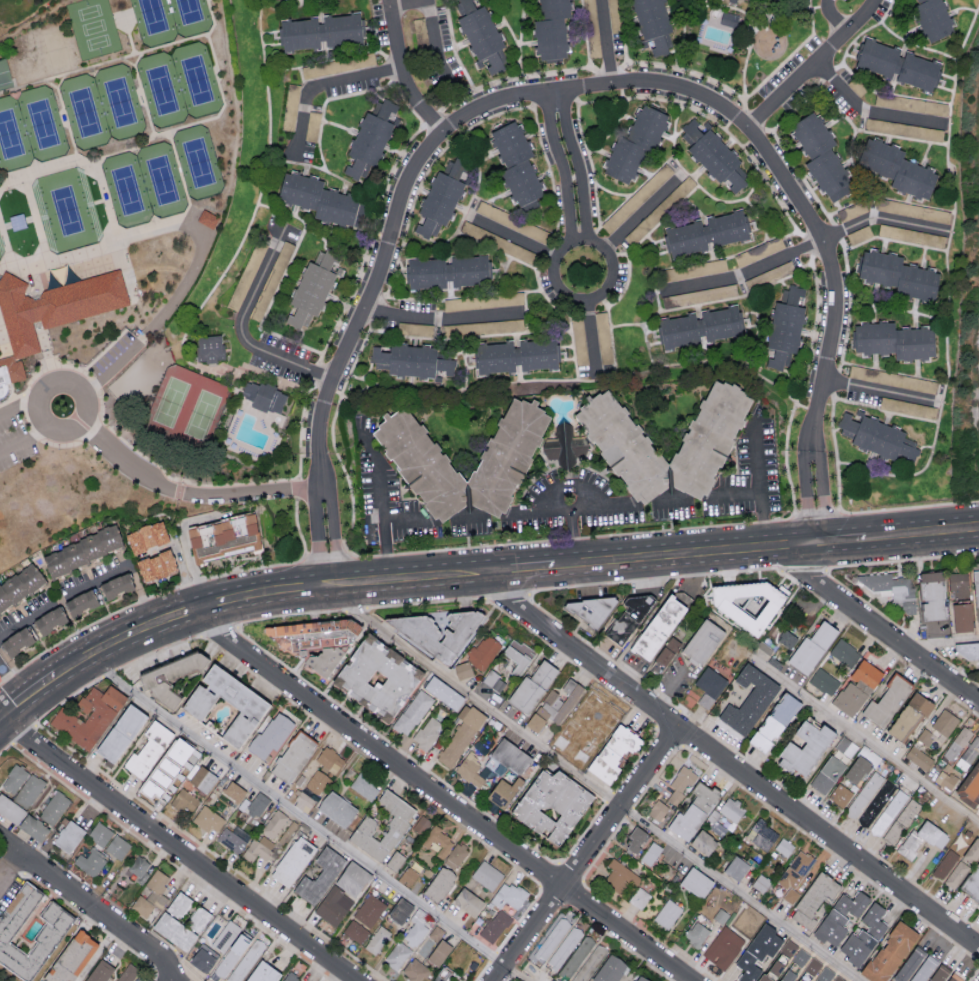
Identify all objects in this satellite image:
building: (729, 0)
road: (407, 2)
building: (786, 2)
building: (614, 15)
road: (835, 15)
park: (190, 17)
building: (932, 18)
building: (728, 19)
park: (154, 22)
building: (652, 24)
park: (93, 28)
building: (550, 29)
building: (419, 30)
building: (322, 31)
building: (481, 35)
road: (129, 37)
road: (436, 44)
road: (606, 45)
road: (122, 58)
road: (128, 62)
building: (896, 64)
road: (817, 65)
building: (3, 67)
road: (404, 73)
park: (196, 80)
road: (61, 81)
road: (321, 83)
road: (627, 88)
park: (162, 90)
road: (142, 95)
park: (120, 102)
building: (290, 106)
building: (936, 107)
road: (871, 111)
park: (85, 112)
road: (65, 117)
building: (313, 119)
park: (43, 124)
road: (192, 124)
building: (903, 129)
park: (13, 138)
building: (369, 139)
building: (634, 144)
building: (713, 155)
building: (820, 155)
park: (198, 162)
building: (516, 163)
road: (65, 164)
road: (572, 167)
building: (896, 168)
park: (162, 180)
road: (13, 185)
park: (127, 190)
building: (441, 197)
building: (319, 199)
road: (187, 208)
building: (859, 208)
building: (910, 210)
park: (66, 211)
road: (642, 212)
building: (497, 214)
road: (882, 216)
building: (208, 220)
building: (16, 221)
road: (19, 222)
building: (704, 233)
building: (859, 234)
road: (513, 235)
building: (911, 235)
building: (498, 242)
park: (1, 249)
road: (8, 250)
building: (284, 254)
road: (608, 256)
road: (6, 268)
building: (446, 271)
building: (778, 271)
road: (745, 272)
building: (246, 275)
building: (896, 275)
building: (310, 290)
building: (701, 295)
building: (504, 298)
building: (461, 303)
park: (969, 310)
building: (50, 314)
road: (440, 321)
building: (500, 326)
building: (699, 327)
building: (784, 327)
road: (241, 328)
building: (415, 329)
building: (603, 337)
road: (592, 339)
building: (893, 340)
building: (579, 341)
road: (3, 343)
building: (209, 348)
building: (514, 356)
building: (410, 360)
road: (111, 368)
building: (903, 381)
road: (76, 386)
road: (880, 388)
building: (264, 397)
building: (0, 403)
road: (19, 404)
building: (908, 407)
park: (186, 409)
building: (877, 436)
road: (24, 440)
building: (564, 446)
building: (624, 446)
building: (421, 463)
road: (759, 481)
road: (189, 492)
road: (714, 495)
road: (594, 497)
road: (381, 503)
road: (585, 506)
road: (482, 515)
road: (405, 517)
road: (571, 517)
road: (929, 529)
road: (325, 534)
road: (182, 536)
building: (145, 537)
building: (222, 537)
road: (837, 538)
building: (81, 550)
road: (685, 551)
road: (531, 565)
building: (155, 566)
building: (958, 584)
building: (19, 585)
road: (90, 586)
building: (115, 586)
building: (892, 588)
building: (975, 588)
road: (263, 590)
building: (931, 593)
building: (747, 600)
building: (80, 602)
building: (591, 608)
building: (961, 615)
building: (629, 617)
building: (48, 618)
building: (658, 626)
road: (878, 629)
road: (218, 630)
building: (439, 630)
road: (73, 633)
building: (315, 638)
building: (15, 640)
building: (703, 640)
road: (944, 642)
building: (811, 646)
building: (968, 649)
road: (156, 650)
building: (667, 650)
building: (483, 652)
building: (844, 652)
building: (518, 656)
road: (14, 669)
building: (462, 669)
road: (109, 672)
building: (167, 674)
building: (376, 675)
building: (493, 680)
building: (824, 681)
road: (10, 682)
road: (34, 685)
building: (532, 686)
building: (709, 686)
building: (856, 687)
building: (444, 692)
road: (669, 693)
building: (748, 698)
building: (886, 700)
building: (248, 702)
building: (554, 707)
road: (8, 708)
building: (412, 711)
road: (1, 714)
building: (908, 715)
building: (88, 716)
building: (592, 719)
building: (773, 720)
building: (938, 727)
road: (24, 731)
building: (118, 731)
building: (427, 732)
building: (270, 734)
building: (460, 735)
road: (866, 739)
building: (957, 743)
road: (5, 746)
building: (803, 746)
building: (846, 746)
building: (147, 748)
building: (612, 751)
building: (969, 753)
building: (292, 756)
building: (509, 756)
building: (918, 757)
road: (728, 763)
building: (323, 764)
building: (469, 769)
building: (857, 769)
building: (827, 774)
building: (200, 777)
building: (945, 779)
building: (158, 780)
building: (971, 782)
building: (22, 784)
building: (680, 784)
building: (364, 785)
road: (595, 785)
building: (232, 789)
building: (502, 790)
building: (704, 795)
building: (840, 795)
road: (442, 796)
building: (870, 799)
building: (184, 800)
building: (257, 804)
building: (552, 805)
building: (54, 807)
building: (336, 807)
building: (732, 808)
building: (10, 809)
building: (657, 810)
building: (895, 816)
road: (306, 817)
building: (207, 818)
building: (443, 820)
building: (686, 820)
building: (274, 823)
building: (419, 825)
building: (33, 826)
road: (179, 827)
building: (394, 827)
building: (99, 833)
building: (762, 834)
building: (68, 835)
road: (2, 837)
building: (232, 837)
road: (11, 838)
building: (920, 839)
building: (636, 840)
building: (438, 841)
building: (702, 841)
building: (117, 846)
building: (784, 846)
road: (179, 848)
building: (258, 848)
building: (971, 850)
road: (583, 852)
building: (651, 853)
road: (13, 855)
building: (455, 855)
building: (393, 859)
building: (291, 860)
building: (90, 861)
road: (171, 862)
building: (945, 863)
road: (9, 864)
building: (735, 866)
building: (139, 867)
building: (956, 873)
building: (794, 874)
building: (319, 875)
building: (487, 875)
building: (408, 876)
building: (620, 877)
building: (695, 881)
building: (760, 882)
building: (972, 882)
building: (439, 883)
building: (341, 892)
building: (151, 894)
building: (508, 895)
building: (639, 897)
building: (813, 899)
building: (467, 900)
building: (852, 903)
building: (369, 909)
building: (399, 910)
road: (103, 911)
building: (667, 913)
building: (197, 918)
building: (749, 919)
building: (174, 922)
road: (95, 923)
building: (495, 925)
building: (831, 926)
building: (416, 929)
building: (50, 930)
building: (355, 931)
building: (696, 933)
building: (864, 935)
building: (552, 938)
building: (376, 939)
building: (435, 946)
building: (564, 947)
building: (723, 947)
building: (789, 947)
building: (213, 948)
building: (757, 951)
building: (889, 952)
building: (233, 953)
building: (397, 954)
building: (801, 956)
building: (69, 957)
building: (576, 957)
road: (164, 960)
building: (246, 961)
building: (590, 963)
building: (813, 965)
road: (184, 966)
building: (915, 966)
building: (776, 967)
building: (610, 969)
building: (415, 970)
building: (99, 971)
building: (126, 972)
building: (261, 972)
building: (790, 972)
building: (825, 973)
building: (939, 973)
building: (442, 975)
road: (158, 976)
building: (638, 977)
building: (954, 977)
building: (289, 978)
building: (763, 978)
building: (839, 978)
road: (168, 979)
building: (800, 979)

